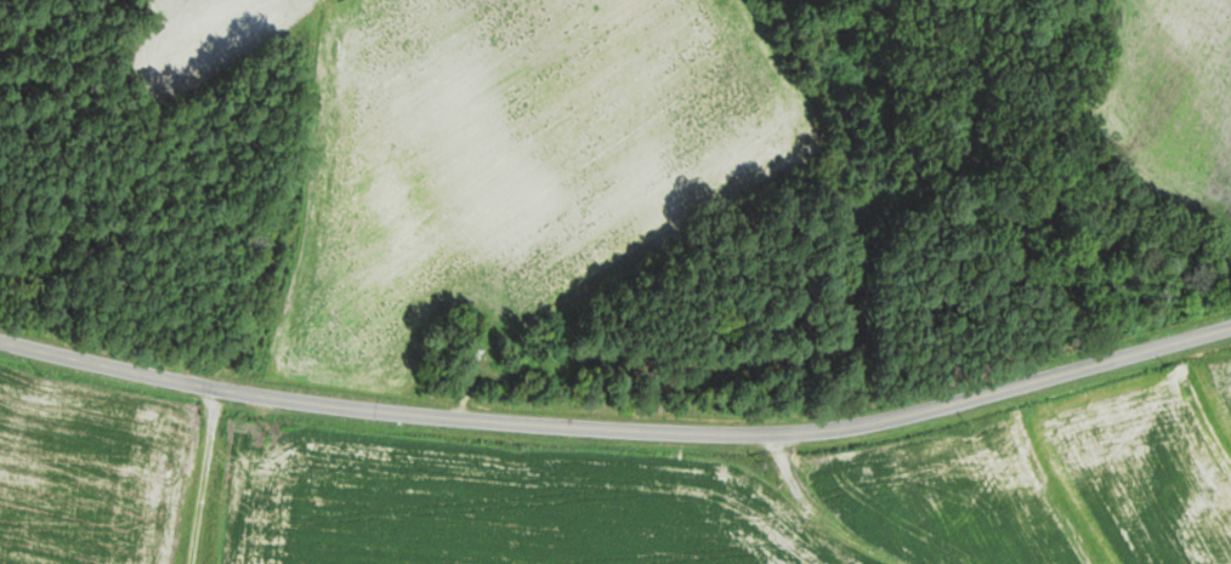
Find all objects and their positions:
road: (409, 141)
road: (318, 405)
road: (938, 414)
road: (244, 479)

